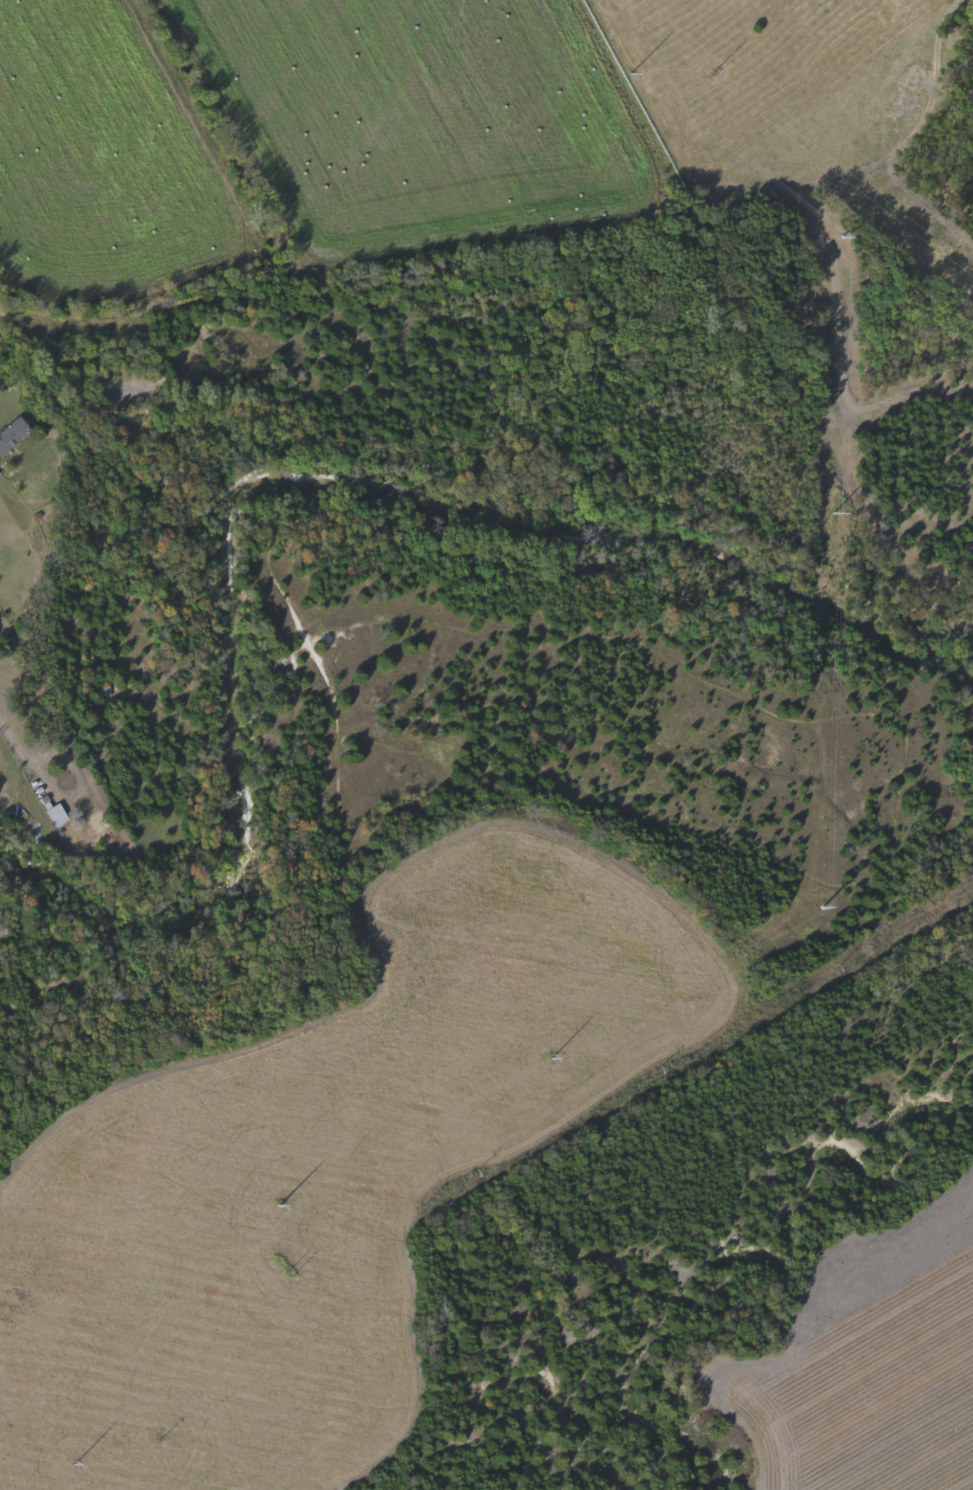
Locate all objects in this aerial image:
building: (13, 433)
building: (106, 691)

